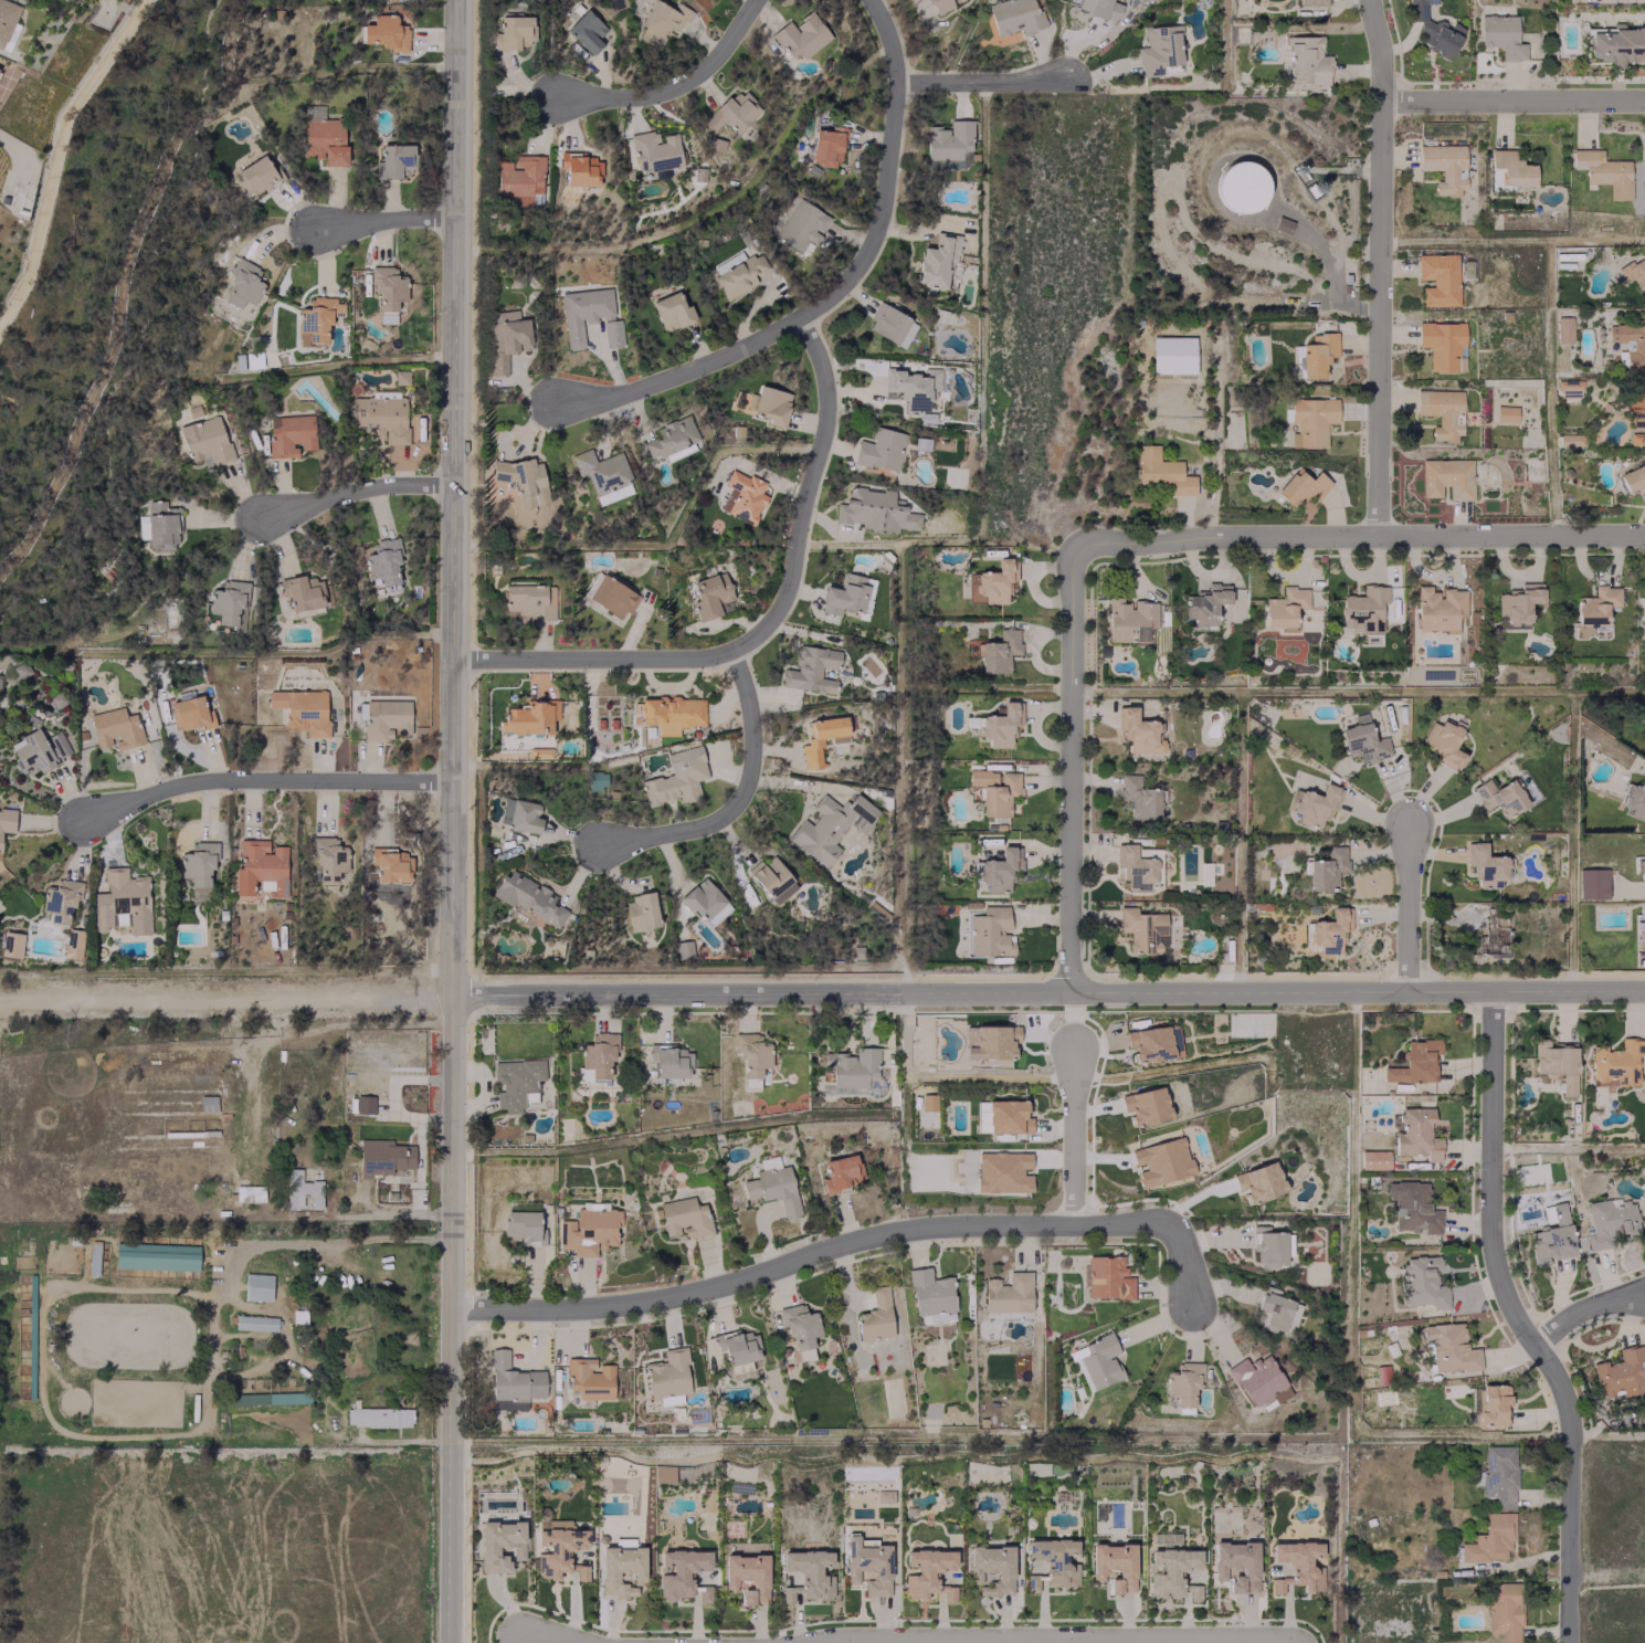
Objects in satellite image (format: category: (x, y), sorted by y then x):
building: (1311, 2)
building: (939, 6)
building: (1100, 8)
building: (1014, 15)
building: (6, 19)
building: (662, 20)
building: (1433, 30)
building: (514, 31)
building: (586, 31)
building: (386, 32)
building: (801, 35)
building: (1501, 35)
building: (1617, 44)
building: (1158, 49)
road: (981, 81)
road: (677, 85)
road: (1512, 101)
building: (732, 110)
building: (324, 139)
building: (947, 143)
building: (826, 146)
building: (655, 150)
building: (393, 160)
building: (1444, 167)
building: (579, 168)
building: (1509, 169)
building: (1603, 171)
building: (255, 176)
building: (518, 179)
building: (1242, 187)
road: (386, 219)
building: (800, 225)
building: (937, 261)
road: (1378, 267)
building: (1634, 273)
building: (738, 275)
building: (1437, 278)
building: (242, 284)
road: (835, 289)
building: (387, 291)
building: (671, 310)
building: (589, 316)
building: (316, 318)
building: (890, 325)
building: (1562, 328)
building: (505, 337)
building: (1442, 344)
building: (1630, 345)
building: (1317, 354)
building: (1172, 355)
building: (1568, 383)
building: (908, 388)
building: (771, 404)
building: (1441, 412)
building: (1505, 413)
building: (381, 417)
building: (1636, 417)
building: (1309, 421)
building: (289, 434)
building: (669, 436)
building: (1570, 439)
building: (205, 440)
building: (881, 449)
building: (1161, 471)
building: (601, 472)
building: (1447, 477)
building: (1633, 480)
building: (527, 481)
building: (1300, 486)
road: (358, 493)
building: (741, 496)
building: (875, 510)
building: (161, 523)
road: (1359, 536)
building: (383, 562)
building: (995, 581)
building: (303, 592)
building: (709, 594)
building: (612, 596)
building: (845, 597)
building: (529, 600)
building: (229, 602)
building: (1517, 603)
building: (1205, 604)
building: (1284, 605)
building: (1594, 605)
building: (1437, 608)
building: (1362, 610)
building: (1129, 620)
road: (763, 624)
building: (999, 651)
building: (21, 668)
building: (811, 668)
building: (302, 709)
building: (189, 713)
building: (671, 713)
building: (529, 717)
building: (386, 718)
building: (1000, 725)
building: (115, 728)
building: (1138, 731)
building: (1362, 740)
building: (810, 741)
building: (1444, 742)
building: (38, 750)
road: (1071, 769)
building: (676, 777)
building: (595, 779)
road: (264, 780)
building: (994, 789)
building: (1138, 797)
building: (1499, 797)
road: (737, 799)
building: (1633, 802)
building: (1315, 804)
building: (519, 814)
building: (7, 820)
road: (450, 821)
building: (830, 825)
building: (328, 857)
building: (198, 864)
building: (1485, 864)
building: (390, 865)
building: (1326, 868)
building: (997, 870)
building: (1642, 873)
building: (771, 878)
building: (1591, 883)
building: (528, 896)
building: (59, 902)
building: (122, 902)
building: (705, 902)
road: (1409, 906)
building: (640, 912)
building: (1141, 929)
building: (1329, 929)
building: (1488, 930)
building: (989, 931)
building: (1641, 935)
building: (72, 942)
building: (11, 944)
road: (1046, 990)
road: (224, 994)
building: (989, 1041)
building: (1149, 1043)
building: (598, 1054)
building: (751, 1055)
building: (669, 1061)
building: (1413, 1062)
building: (1557, 1063)
building: (1616, 1063)
building: (852, 1066)
building: (515, 1081)
building: (841, 1091)
building: (927, 1102)
building: (363, 1104)
building: (1145, 1105)
building: (1008, 1116)
building: (1416, 1133)
road: (1072, 1136)
building: (382, 1156)
building: (1373, 1159)
building: (1161, 1161)
building: (1003, 1171)
building: (840, 1172)
building: (1259, 1181)
building: (772, 1188)
building: (300, 1190)
building: (249, 1192)
building: (1411, 1207)
building: (684, 1218)
building: (1610, 1221)
building: (521, 1226)
building: (589, 1231)
building: (1551, 1237)
road: (328, 1241)
building: (1268, 1246)
road: (804, 1255)
building: (156, 1256)
road: (1183, 1264)
building: (1107, 1277)
building: (1421, 1283)
building: (256, 1286)
building: (929, 1293)
building: (1006, 1295)
road: (1584, 1308)
building: (1275, 1309)
building: (875, 1316)
road: (1518, 1319)
building: (254, 1323)
building: (799, 1328)
building: (737, 1346)
building: (1449, 1347)
building: (1621, 1372)
building: (1381, 1375)
building: (667, 1376)
building: (589, 1379)
building: (1258, 1381)
building: (1182, 1382)
building: (512, 1383)
building: (268, 1398)
building: (1491, 1404)
building: (378, 1416)
building: (663, 1473)
building: (1499, 1474)
building: (1489, 1538)
building: (500, 1544)
building: (557, 1545)
building: (1054, 1560)
building: (867, 1565)
building: (1236, 1565)
building: (1297, 1565)
building: (1114, 1566)
building: (991, 1568)
building: (621, 1569)
building: (925, 1570)
building: (1170, 1570)
building: (679, 1571)
building: (581, 1572)
building: (805, 1573)
road: (1605, 1573)
building: (747, 1576)
building: (1032, 1582)
building: (1194, 1592)
building: (704, 1593)
building: (1504, 1610)
road: (1031, 1635)
road: (560, 1636)
road: (1054, 1639)

